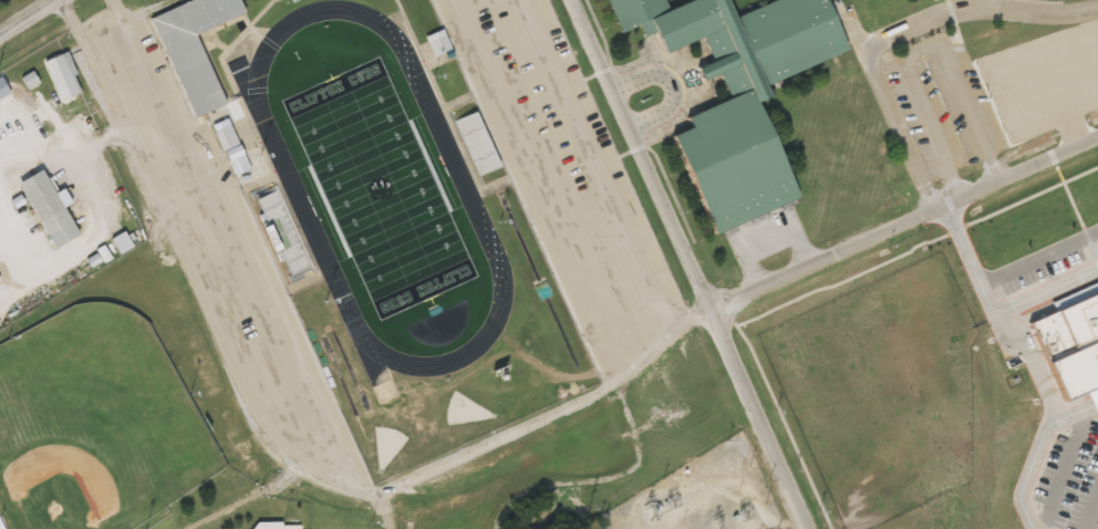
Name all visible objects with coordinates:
road: (976, 8)
road: (27, 17)
road: (69, 19)
building: (439, 44)
building: (195, 49)
road: (921, 53)
road: (672, 85)
building: (737, 91)
parking lot: (934, 111)
road: (889, 112)
building: (227, 135)
building: (478, 141)
road: (583, 166)
parking lot: (568, 172)
road: (541, 179)
track: (464, 185)
park: (379, 187)
building: (49, 208)
stadium: (383, 215)
road: (904, 225)
building: (283, 231)
building: (123, 241)
road: (236, 252)
road: (1038, 259)
parking lot: (1045, 262)
road: (690, 263)
road: (991, 314)
building: (0, 324)
building: (1069, 349)
road: (1030, 364)
road: (551, 412)
road: (1039, 453)
road: (1063, 470)
parking lot: (1069, 481)
power substation: (702, 495)
road: (1090, 509)
road: (382, 511)

